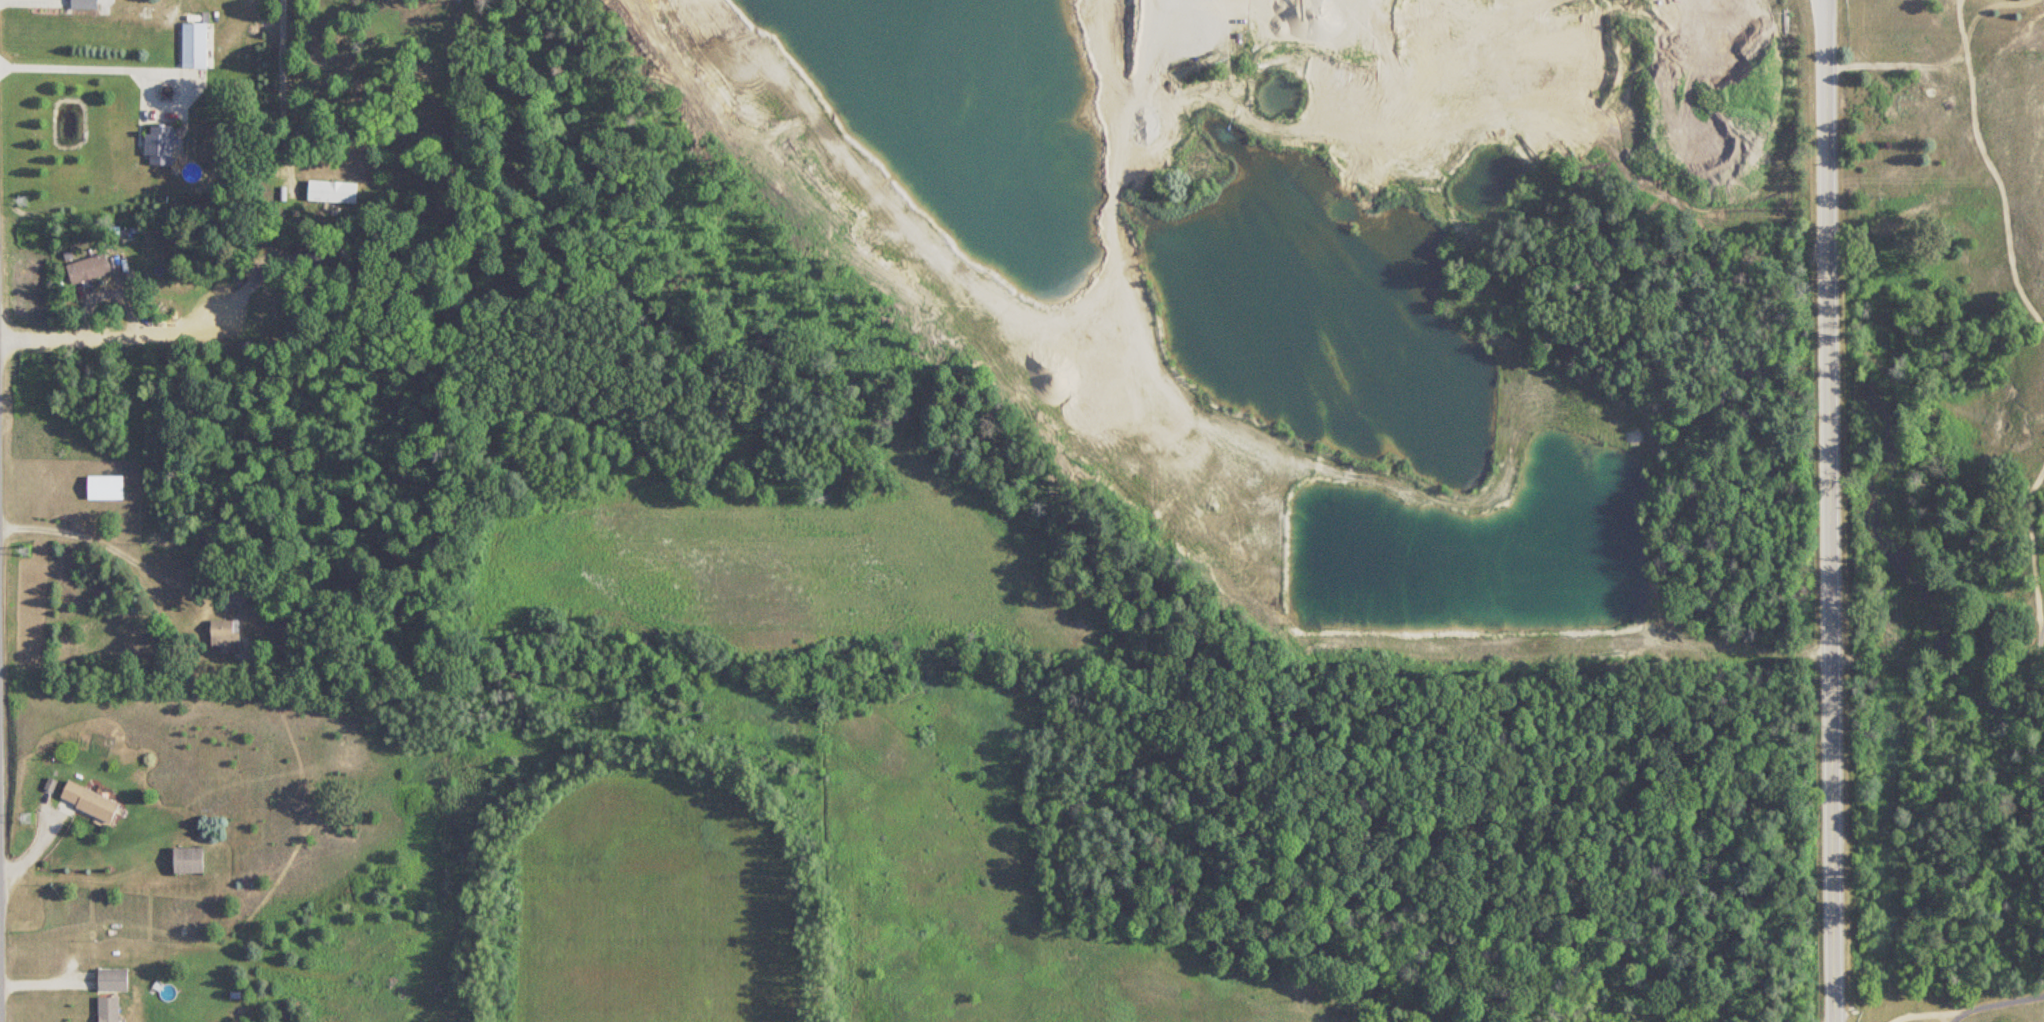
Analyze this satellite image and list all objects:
building: (84, 5)
building: (195, 45)
road: (74, 66)
road: (279, 77)
building: (2035, 96)
road: (181, 98)
building: (1915, 103)
building: (164, 144)
building: (333, 191)
power tower: (22, 200)
building: (303, 258)
building: (88, 269)
road: (254, 284)
road: (123, 331)
building: (106, 488)
road: (1832, 510)
road: (107, 546)
power tower: (24, 550)
building: (232, 592)
building: (224, 630)
building: (90, 802)
power tower: (25, 820)
road: (41, 846)
building: (189, 861)
building: (113, 981)
road: (46, 984)
building: (109, 1010)

